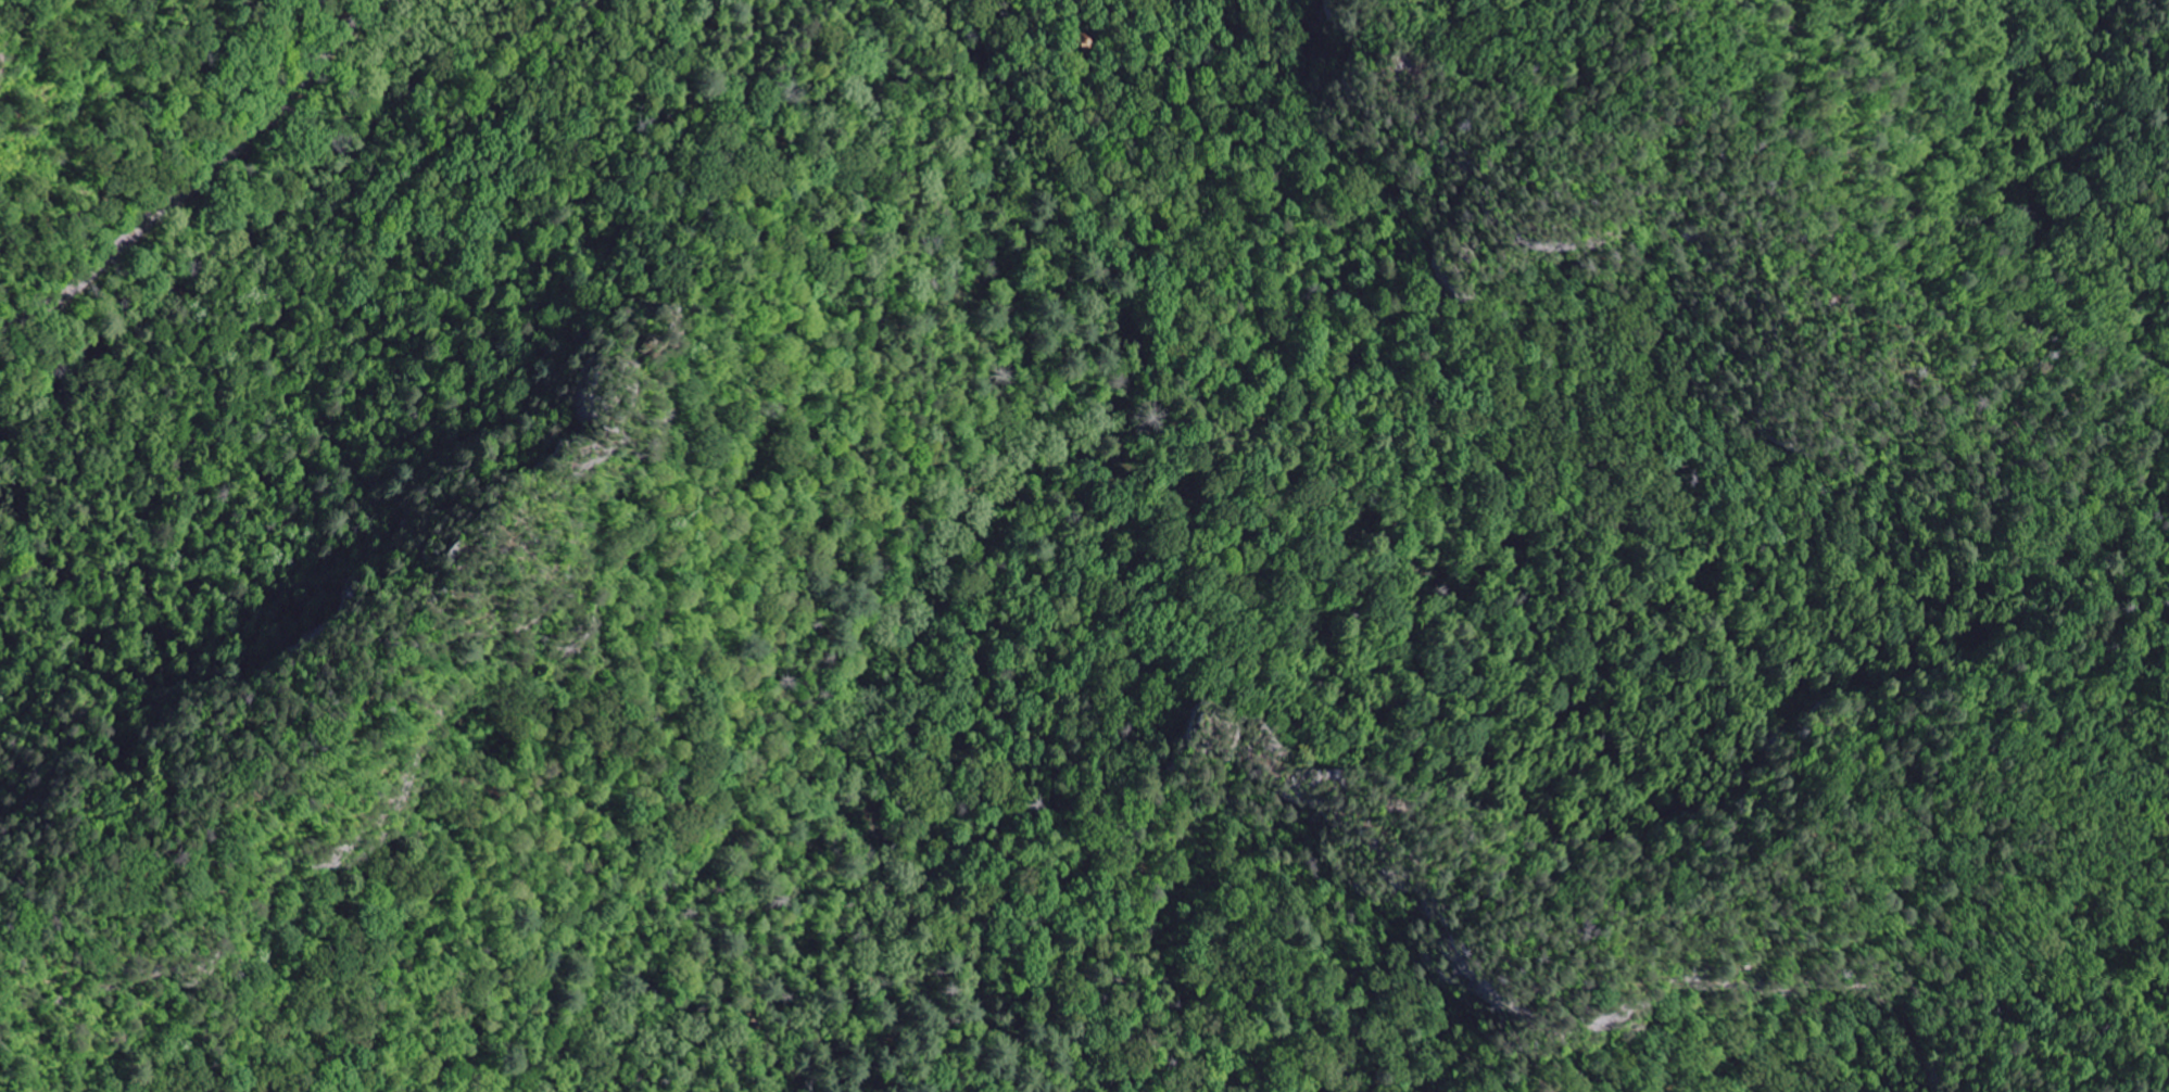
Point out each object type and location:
road: (202, 176)
road: (1261, 305)
road: (817, 421)
road: (982, 566)

